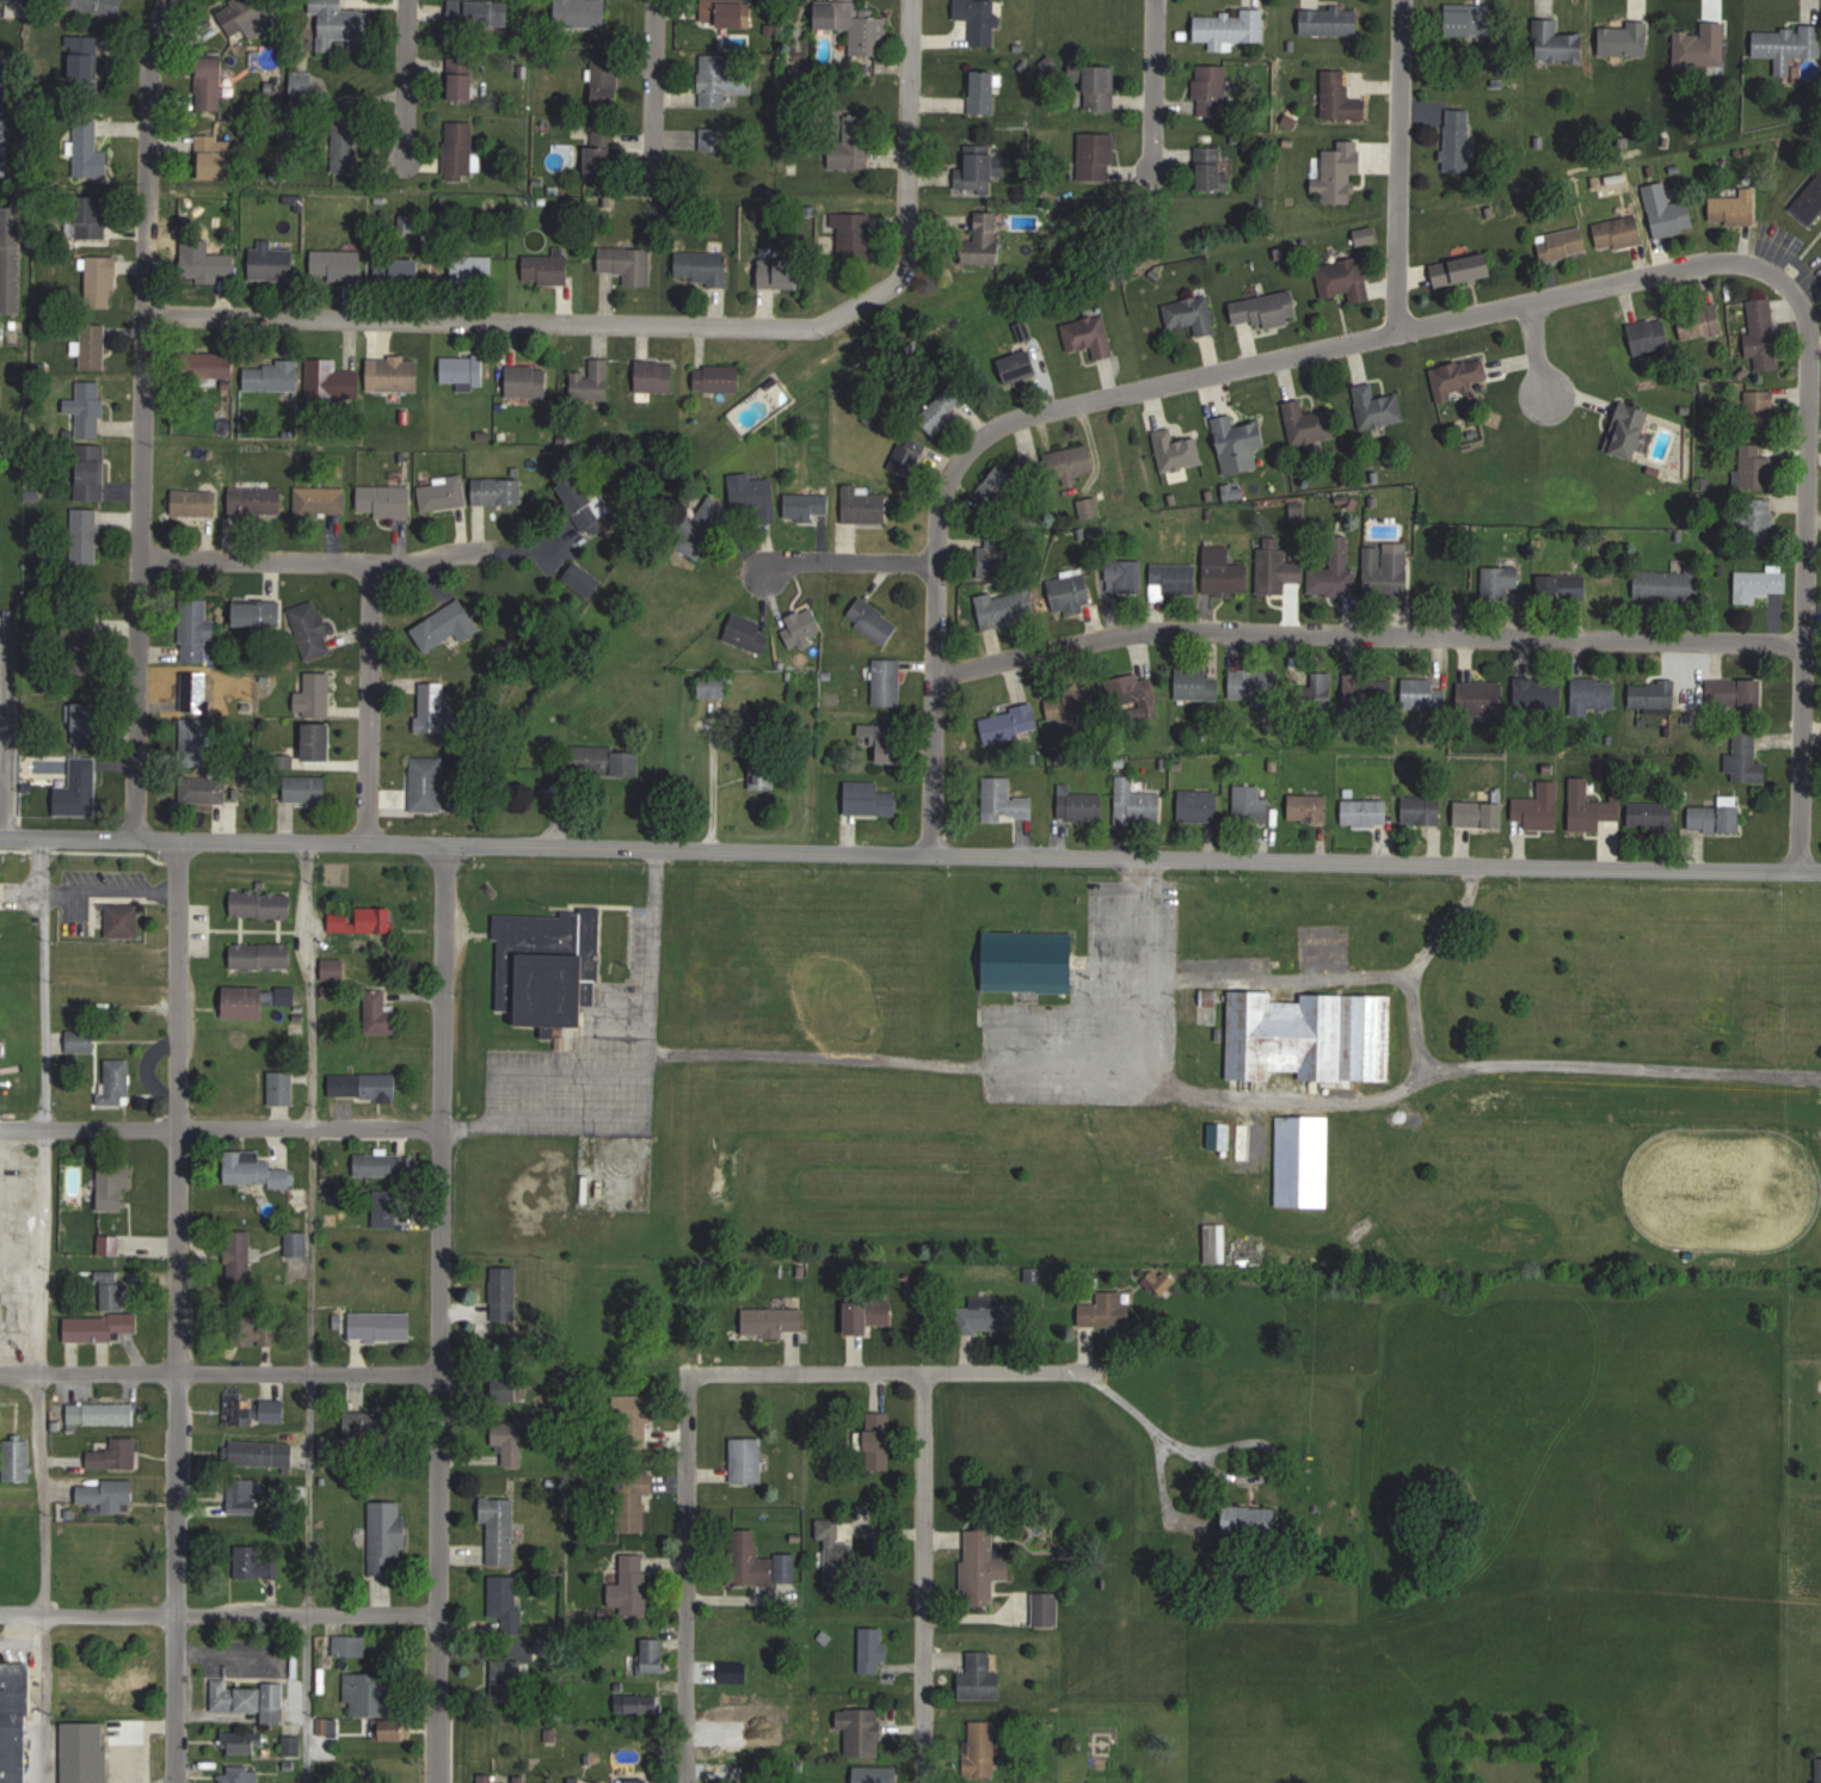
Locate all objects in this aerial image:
building: (97, 6)
building: (727, 12)
building: (474, 13)
building: (582, 14)
building: (246, 16)
building: (980, 19)
building: (1330, 20)
building: (1469, 23)
building: (342, 24)
building: (856, 25)
building: (1231, 29)
building: (1626, 38)
building: (1555, 39)
building: (1702, 44)
building: (1786, 45)
building: (82, 59)
building: (461, 79)
building: (721, 80)
building: (605, 81)
road: (652, 82)
road: (1150, 84)
building: (210, 86)
road: (404, 86)
building: (1101, 87)
building: (984, 91)
building: (1212, 91)
building: (1341, 98)
building: (714, 139)
building: (1459, 140)
building: (349, 142)
building: (856, 148)
building: (88, 150)
building: (459, 150)
building: (603, 154)
building: (1096, 155)
building: (215, 158)
building: (976, 166)
road: (1392, 167)
building: (1213, 168)
building: (1341, 172)
building: (1809, 203)
building: (1735, 208)
building: (1668, 210)
building: (91, 216)
building: (1619, 233)
building: (853, 236)
building: (988, 239)
building: (1563, 244)
building: (12, 258)
building: (271, 263)
building: (628, 264)
building: (208, 265)
building: (338, 265)
building: (703, 266)
building: (475, 269)
building: (550, 269)
building: (1464, 270)
building: (399, 271)
building: (781, 272)
building: (1345, 279)
road: (1641, 279)
building: (101, 282)
building: (1266, 309)
building: (1192, 314)
building: (1700, 320)
road: (666, 324)
building: (1, 332)
building: (1764, 333)
building: (1090, 334)
building: (1650, 336)
building: (93, 345)
road: (1527, 353)
building: (211, 364)
building: (1020, 365)
building: (463, 369)
building: (394, 375)
building: (271, 376)
building: (656, 376)
building: (718, 377)
building: (1458, 379)
building: (332, 380)
building: (528, 381)
building: (592, 382)
building: (1378, 406)
building: (90, 407)
building: (1760, 410)
building: (941, 411)
road: (143, 416)
building: (1308, 423)
building: (1631, 430)
building: (1241, 443)
building: (1177, 451)
building: (908, 455)
building: (1070, 461)
building: (1751, 466)
building: (91, 478)
building: (1001, 485)
building: (499, 491)
building: (444, 493)
building: (752, 497)
building: (256, 500)
building: (321, 500)
building: (196, 502)
building: (386, 502)
building: (582, 502)
building: (806, 505)
building: (865, 505)
building: (1090, 508)
building: (1755, 522)
building: (701, 534)
building: (86, 535)
building: (992, 557)
road: (314, 559)
building: (1276, 567)
building: (1334, 568)
building: (1386, 568)
road: (841, 570)
building: (1224, 572)
building: (1445, 573)
building: (1125, 576)
building: (585, 578)
building: (1175, 580)
building: (1499, 583)
building: (1759, 584)
building: (1666, 585)
building: (1563, 588)
building: (1071, 592)
building: (1004, 608)
building: (258, 614)
building: (873, 620)
building: (805, 621)
building: (310, 628)
building: (445, 628)
building: (196, 631)
building: (750, 632)
road: (1359, 640)
road: (927, 662)
building: (888, 682)
building: (1196, 684)
building: (1254, 684)
building: (715, 685)
building: (196, 689)
building: (1322, 689)
building: (1368, 690)
building: (1538, 691)
building: (1133, 694)
building: (1423, 694)
building: (1594, 694)
building: (1653, 694)
building: (1735, 694)
building: (314, 695)
building: (1481, 696)
road: (371, 701)
building: (1078, 703)
building: (433, 707)
building: (85, 723)
building: (1013, 723)
road: (5, 734)
building: (195, 740)
building: (886, 740)
building: (319, 742)
building: (1746, 760)
building: (609, 761)
building: (764, 769)
road: (4, 776)
building: (427, 783)
building: (79, 788)
building: (306, 788)
building: (203, 789)
building: (869, 799)
building: (1005, 799)
building: (1137, 803)
building: (1081, 804)
building: (1251, 805)
building: (1199, 806)
building: (1539, 807)
building: (1587, 807)
building: (1310, 809)
building: (1423, 810)
building: (1366, 812)
building: (1481, 814)
building: (1651, 814)
building: (1716, 816)
road: (68, 835)
road: (979, 851)
building: (0, 873)
road: (1468, 873)
road: (112, 889)
building: (263, 903)
building: (124, 920)
building: (363, 920)
building: (262, 955)
building: (1031, 960)
building: (548, 965)
road: (1414, 967)
building: (337, 972)
road: (1222, 978)
road: (45, 980)
building: (246, 1002)
building: (379, 1014)
road: (1142, 1028)
building: (1312, 1035)
building: (81, 1040)
building: (117, 1081)
building: (376, 1084)
road: (647, 1084)
building: (282, 1088)
road: (1239, 1096)
road: (220, 1127)
building: (1220, 1135)
building: (1305, 1161)
building: (380, 1164)
building: (256, 1168)
building: (115, 1185)
building: (388, 1209)
building: (296, 1242)
building: (110, 1244)
road: (44, 1252)
building: (240, 1255)
building: (1162, 1279)
building: (113, 1290)
building: (504, 1293)
road: (177, 1309)
road: (309, 1311)
road: (438, 1311)
building: (1101, 1312)
road: (12, 1315)
building: (868, 1315)
building: (988, 1317)
building: (773, 1321)
building: (99, 1327)
building: (380, 1327)
building: (253, 1332)
road: (896, 1370)
road: (219, 1372)
building: (256, 1408)
building: (101, 1413)
building: (370, 1426)
building: (510, 1441)
building: (881, 1450)
building: (115, 1453)
building: (263, 1453)
building: (748, 1459)
building: (17, 1461)
road: (1220, 1471)
road: (1165, 1486)
building: (109, 1493)
building: (242, 1498)
building: (634, 1502)
building: (1250, 1520)
building: (500, 1530)
building: (835, 1555)
building: (759, 1561)
building: (984, 1561)
building: (254, 1562)
road: (687, 1576)
road: (924, 1576)
road: (44, 1578)
building: (630, 1584)
building: (507, 1603)
road: (219, 1611)
building: (351, 1644)
building: (874, 1648)
building: (651, 1656)
building: (982, 1676)
building: (507, 1680)
building: (129, 1692)
building: (373, 1695)
building: (251, 1698)
building: (640, 1704)
building: (860, 1720)
building: (14, 1722)
road: (150, 1723)
building: (328, 1726)
building: (732, 1728)
building: (393, 1729)
building: (245, 1742)
building: (983, 1748)
building: (85, 1752)
road: (130, 1758)
building: (1819, 1770)
building: (240, 1775)
building: (870, 1775)
building: (487, 1778)
building: (640, 1781)
building: (522, 1782)

